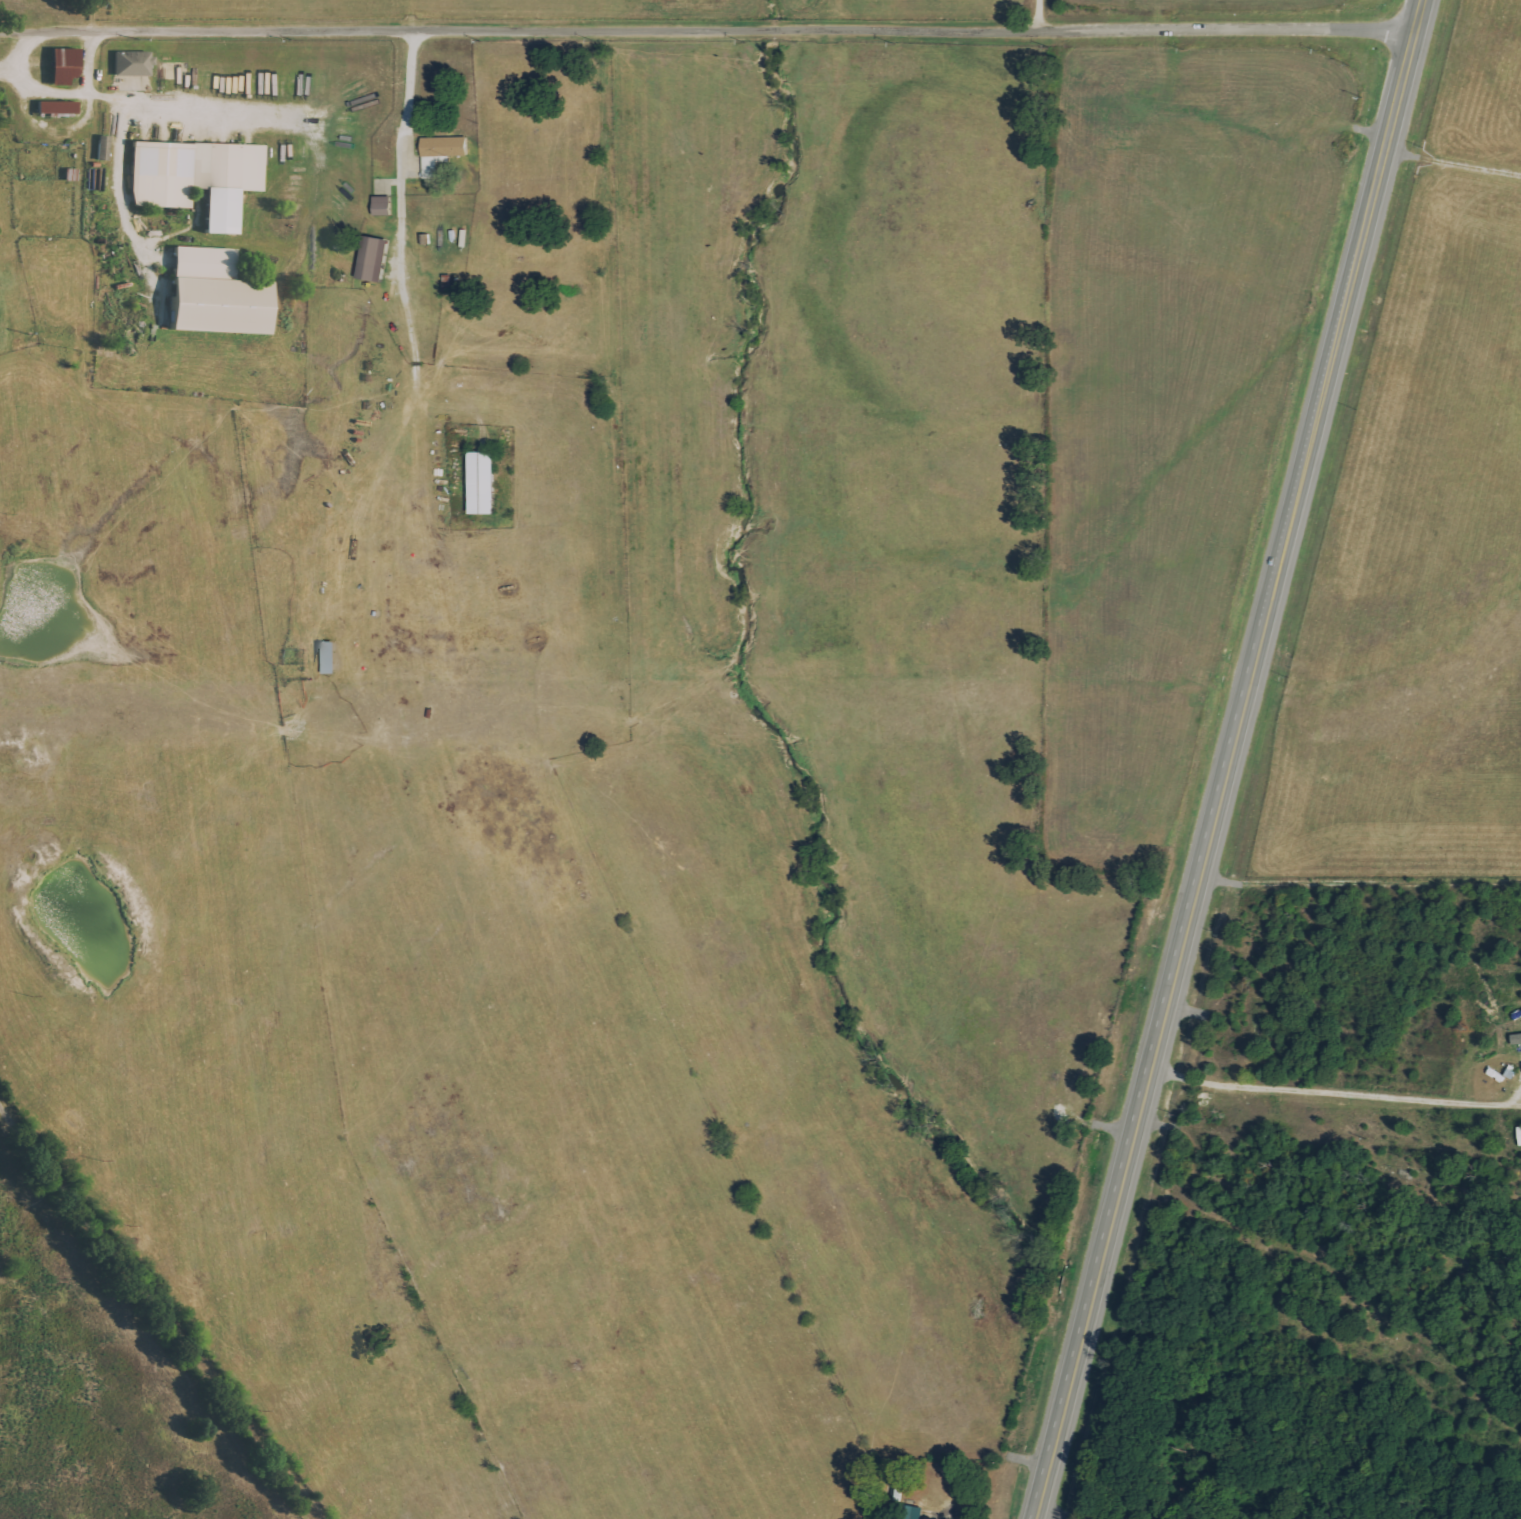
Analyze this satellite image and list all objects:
road: (1039, 15)
road: (1415, 20)
road: (705, 30)
building: (134, 63)
building: (65, 65)
building: (59, 107)
building: (105, 148)
building: (441, 153)
building: (199, 178)
building: (383, 206)
building: (374, 259)
building: (219, 294)
building: (484, 483)
building: (330, 658)
road: (1215, 778)
building: (1520, 1133)
road: (162, 1309)

